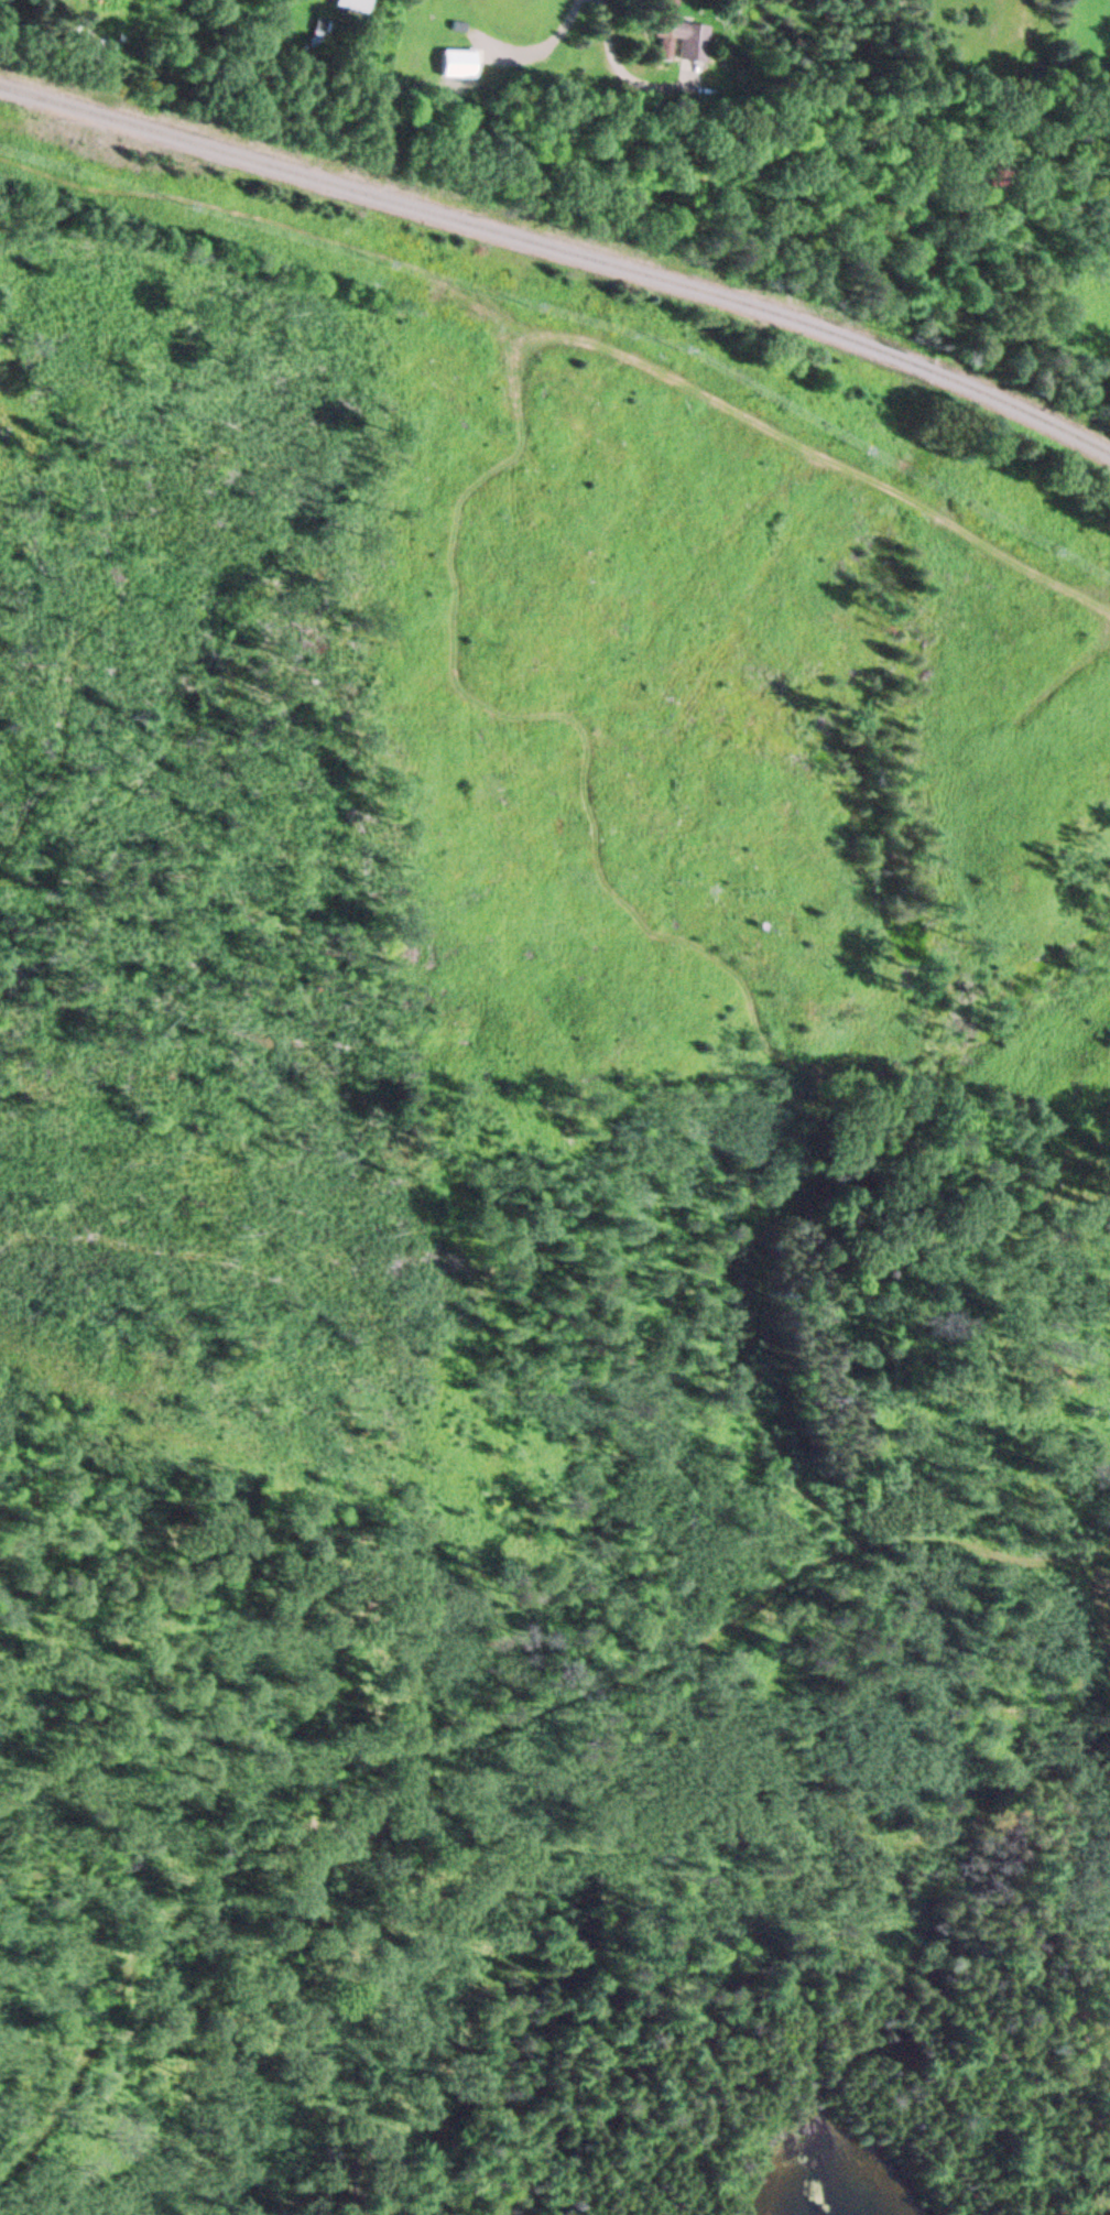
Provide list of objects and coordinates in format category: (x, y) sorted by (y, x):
building: (347, 4)
building: (675, 36)
building: (454, 64)
railway: (468, 221)
railway: (1021, 414)

